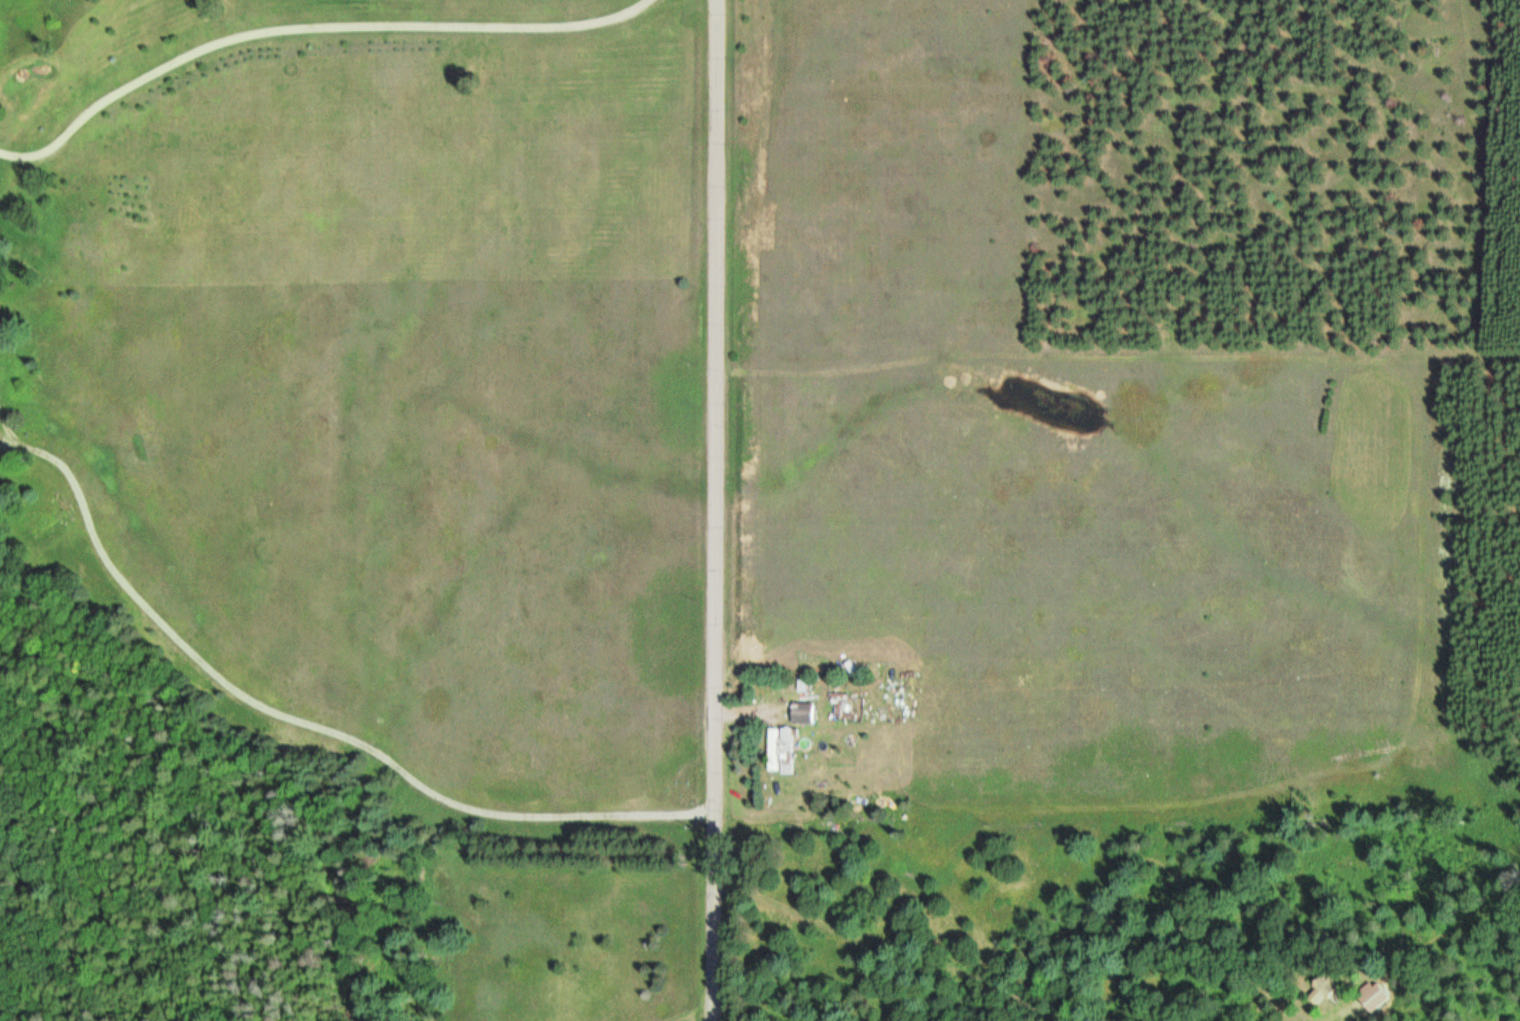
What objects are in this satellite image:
road: (716, 510)
building: (799, 713)
building: (784, 750)
building: (1323, 986)
building: (1371, 994)

